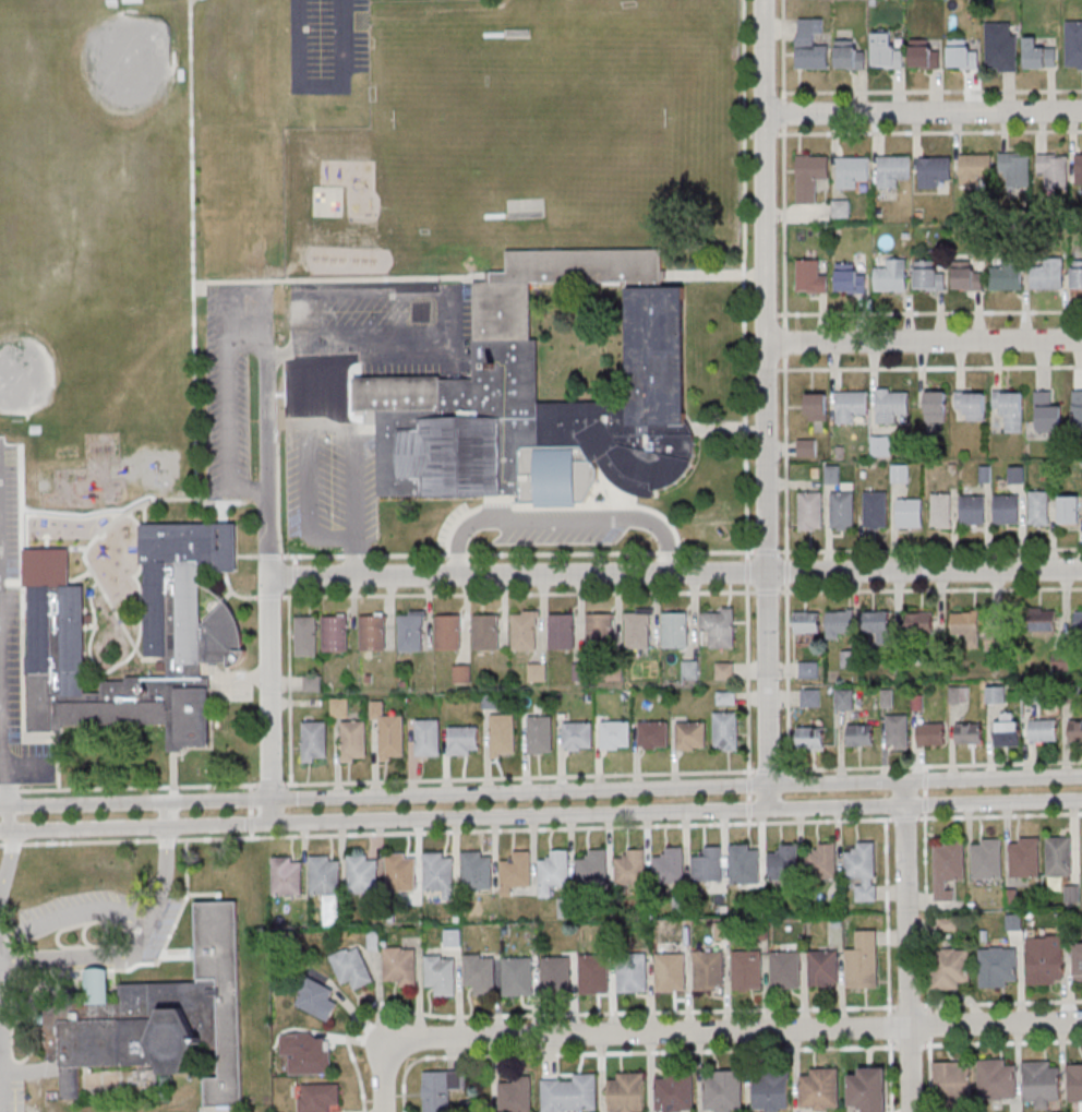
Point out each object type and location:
parking lot: (327, 45)
building: (809, 45)
building: (1073, 45)
building: (1000, 48)
road: (782, 49)
building: (886, 50)
park: (131, 52)
building: (962, 53)
building: (849, 55)
building: (924, 55)
building: (1038, 55)
park: (127, 62)
road: (321, 85)
road: (933, 91)
road: (924, 111)
road: (783, 112)
park: (531, 119)
road: (929, 132)
road: (764, 134)
road: (747, 135)
building: (974, 168)
building: (1051, 168)
building: (1079, 168)
building: (1014, 169)
building: (892, 170)
building: (934, 170)
building: (852, 171)
building: (810, 176)
park: (327, 201)
building: (841, 208)
road: (783, 227)
road: (192, 251)
building: (1048, 274)
road: (707, 275)
building: (891, 275)
building: (1008, 275)
building: (810, 276)
building: (928, 276)
building: (966, 276)
building: (1077, 277)
building: (850, 278)
road: (341, 279)
road: (743, 279)
road: (426, 290)
road: (929, 313)
road: (748, 314)
road: (765, 314)
road: (227, 315)
parking lot: (387, 330)
road: (924, 338)
road: (249, 339)
road: (785, 342)
building: (505, 357)
road: (266, 358)
road: (929, 367)
road: (765, 369)
road: (748, 370)
park: (25, 373)
parking lot: (231, 381)
road: (767, 392)
building: (971, 405)
building: (817, 406)
building: (891, 406)
building: (1077, 406)
building: (851, 407)
building: (936, 408)
building: (1010, 409)
building: (1047, 412)
road: (722, 429)
road: (228, 432)
building: (881, 445)
building: (807, 446)
road: (785, 456)
building: (900, 473)
building: (831, 474)
building: (1017, 474)
parking lot: (330, 480)
road: (277, 494)
road: (226, 503)
road: (496, 504)
road: (608, 506)
building: (1038, 507)
building: (972, 509)
building: (1007, 509)
building: (1069, 509)
building: (875, 510)
building: (941, 510)
building: (809, 511)
building: (842, 511)
road: (91, 512)
road: (22, 513)
road: (143, 513)
building: (909, 513)
road: (220, 514)
road: (57, 515)
road: (561, 518)
road: (455, 524)
road: (107, 525)
parking lot: (561, 531)
road: (46, 539)
road: (344, 540)
road: (929, 549)
road: (767, 552)
road: (518, 554)
road: (245, 555)
road: (268, 555)
road: (353, 559)
road: (294, 560)
road: (87, 564)
road: (746, 571)
road: (786, 571)
road: (676, 573)
road: (80, 574)
road: (133, 576)
road: (294, 576)
road: (11, 583)
road: (930, 588)
building: (89, 591)
road: (233, 591)
road: (294, 593)
road: (767, 593)
road: (517, 594)
road: (268, 596)
building: (1044, 619)
building: (1078, 620)
building: (840, 622)
building: (919, 622)
building: (877, 623)
road: (88, 625)
building: (719, 625)
building: (807, 626)
building: (967, 626)
road: (124, 630)
building: (411, 630)
building: (526, 630)
building: (638, 630)
building: (675, 630)
building: (562, 631)
building: (374, 632)
building: (448, 632)
building: (486, 632)
building: (600, 632)
building: (335, 633)
building: (193, 635)
building: (306, 635)
building: (998, 638)
parking lot: (14, 645)
road: (88, 647)
building: (690, 669)
building: (724, 669)
building: (537, 671)
building: (462, 673)
road: (242, 677)
road: (786, 677)
road: (747, 681)
parking lot: (227, 682)
building: (312, 682)
road: (273, 686)
road: (289, 691)
building: (996, 694)
building: (726, 697)
building: (844, 698)
road: (23, 704)
building: (339, 708)
building: (1007, 729)
building: (725, 730)
building: (897, 730)
building: (1043, 730)
building: (1075, 730)
building: (389, 732)
building: (969, 732)
road: (58, 733)
building: (540, 733)
building: (931, 733)
building: (503, 734)
building: (615, 734)
building: (652, 734)
building: (690, 734)
building: (861, 734)
building: (577, 736)
building: (428, 737)
building: (810, 738)
building: (464, 740)
building: (314, 741)
building: (353, 741)
road: (934, 765)
road: (31, 768)
road: (925, 769)
road: (173, 770)
road: (766, 770)
road: (783, 770)
road: (518, 777)
road: (925, 777)
road: (924, 779)
road: (8, 780)
road: (269, 785)
road: (747, 785)
road: (128, 788)
road: (250, 788)
road: (578, 788)
road: (924, 791)
road: (332, 794)
road: (769, 797)
road: (224, 798)
road: (747, 798)
road: (250, 799)
road: (85, 802)
road: (924, 805)
road: (926, 805)
road: (747, 810)
road: (276, 811)
road: (250, 812)
road: (170, 814)
road: (999, 815)
road: (578, 816)
road: (10, 818)
road: (904, 818)
road: (747, 821)
road: (250, 823)
road: (332, 823)
road: (223, 826)
road: (89, 830)
road: (445, 833)
road: (5, 834)
road: (251, 835)
building: (1060, 856)
building: (1023, 857)
building: (987, 858)
building: (821, 860)
road: (5, 861)
building: (783, 862)
building: (745, 863)
building: (708, 864)
building: (670, 865)
building: (593, 866)
building: (630, 866)
building: (948, 868)
building: (477, 870)
building: (863, 870)
building: (401, 871)
building: (516, 871)
building: (554, 871)
building: (363, 873)
building: (440, 873)
building: (325, 874)
building: (287, 875)
road: (165, 877)
building: (1072, 894)
road: (74, 910)
road: (925, 913)
road: (886, 917)
road: (906, 945)
parking lot: (75, 954)
road: (84, 958)
building: (863, 961)
building: (1046, 961)
building: (1078, 961)
building: (998, 966)
building: (352, 968)
building: (823, 969)
building: (950, 969)
building: (709, 970)
building: (400, 971)
building: (556, 971)
building: (747, 971)
building: (785, 971)
building: (480, 972)
building: (670, 972)
building: (593, 973)
building: (441, 976)
building: (518, 976)
building: (633, 976)
building: (317, 1000)
road: (1001, 1003)
road: (909, 1006)
road: (573, 1013)
building: (158, 1017)
road: (928, 1025)
road: (888, 1027)
road: (738, 1029)
road: (1001, 1043)
road: (909, 1047)
building: (306, 1052)
road: (627, 1053)
road: (889, 1075)
road: (929, 1075)
road: (389, 1078)
building: (997, 1079)
building: (951, 1080)
building: (1042, 1083)
building: (1074, 1083)
building: (441, 1089)
building: (869, 1089)
building: (722, 1090)
building: (772, 1090)
building: (819, 1090)
building: (626, 1091)
building: (569, 1092)
building: (674, 1092)
building: (515, 1093)
building: (318, 1097)

